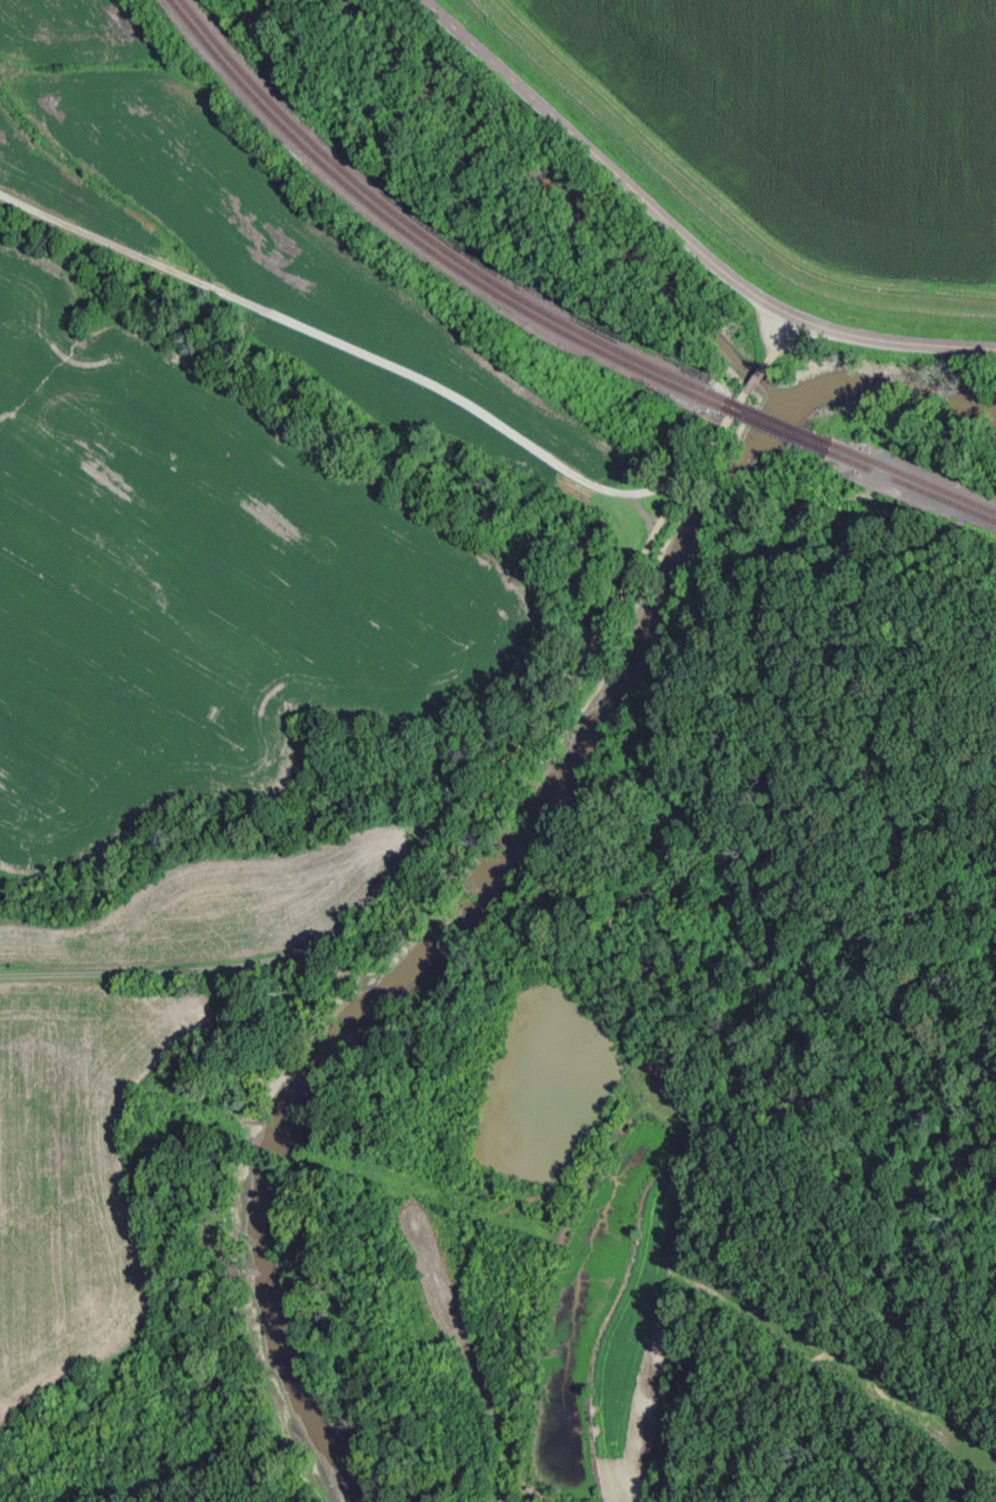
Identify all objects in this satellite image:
crop: (826, 117)
road: (683, 235)
railway: (425, 237)
railway: (412, 246)
road: (782, 344)
road: (388, 373)
road: (753, 380)
railway: (779, 423)
railway: (775, 431)
railway: (914, 480)
railway: (912, 490)
road: (417, 828)
river: (488, 859)

